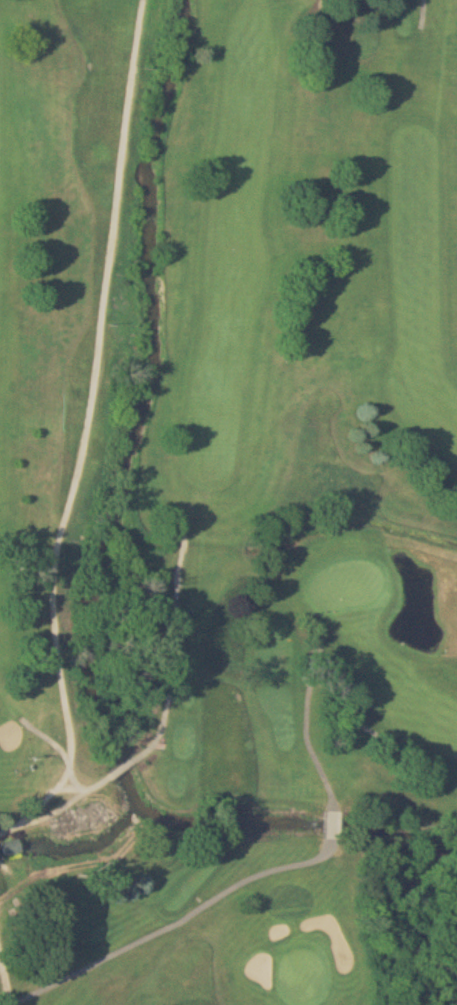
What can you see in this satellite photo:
park: (228, 502)
river: (98, 565)
park: (347, 586)
building: (13, 846)
park: (304, 975)

